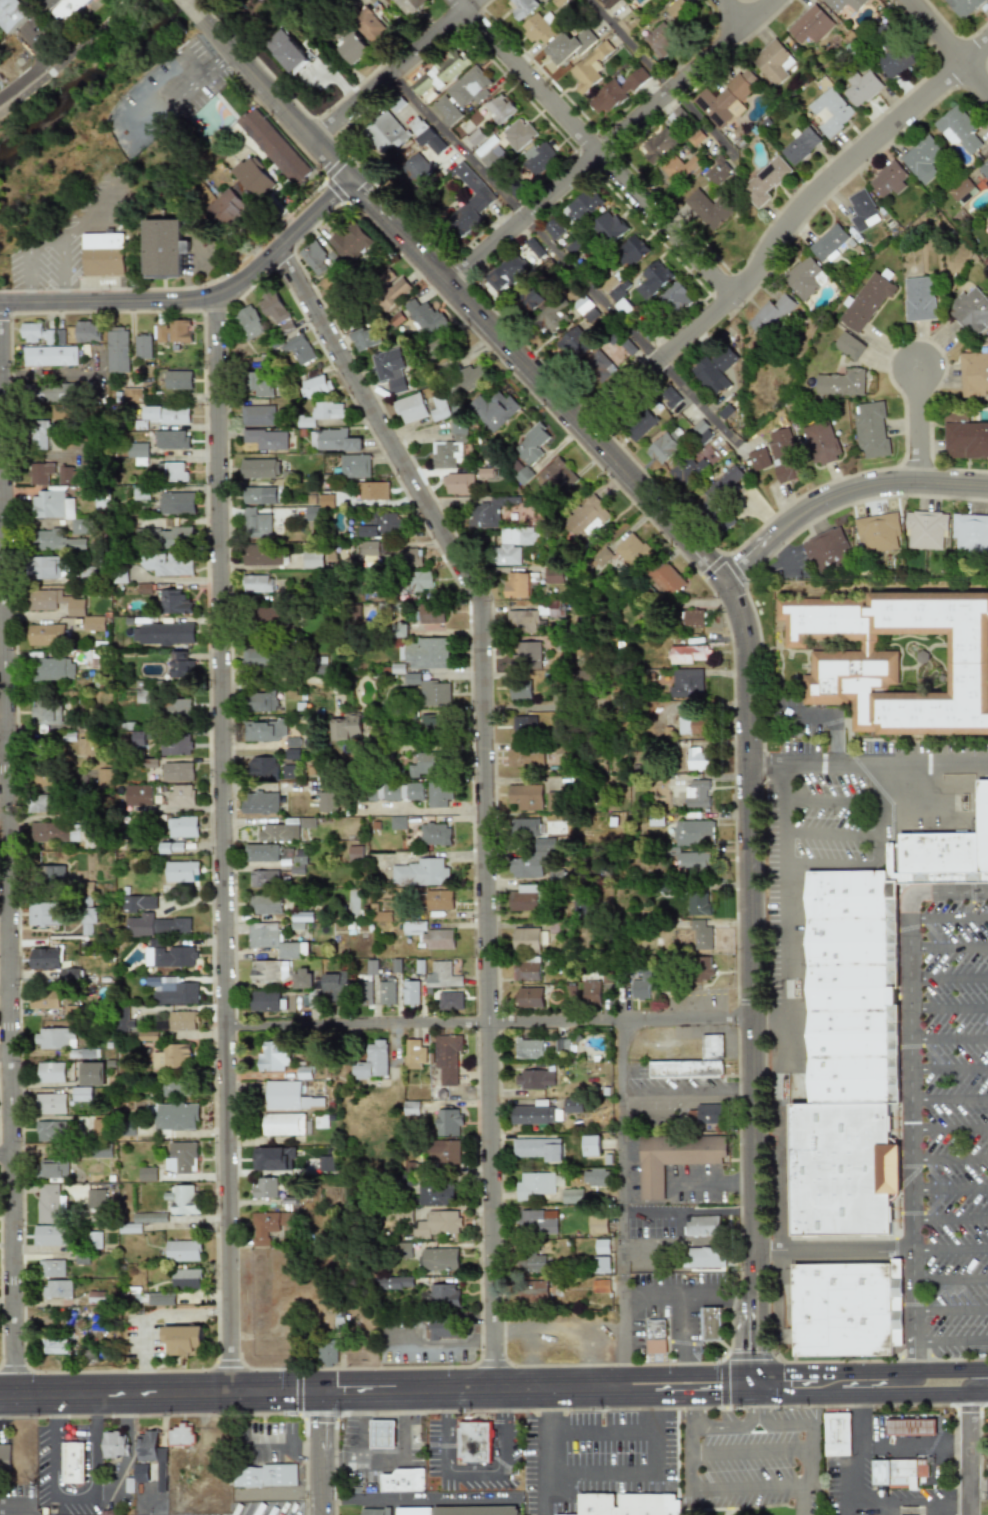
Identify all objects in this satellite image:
building: (844, 4)
building: (408, 6)
building: (520, 6)
building: (962, 6)
building: (66, 9)
road: (194, 9)
building: (676, 9)
road: (734, 13)
building: (11, 14)
building: (810, 25)
building: (368, 26)
building: (536, 29)
road: (89, 35)
building: (661, 40)
road: (949, 44)
building: (351, 47)
building: (568, 47)
building: (286, 52)
building: (895, 61)
building: (774, 62)
building: (589, 67)
road: (395, 69)
river: (86, 76)
road: (657, 76)
road: (17, 83)
building: (468, 86)
building: (861, 87)
road: (180, 89)
road: (25, 90)
building: (616, 91)
building: (427, 96)
building: (723, 100)
building: (499, 108)
building: (446, 110)
building: (831, 112)
building: (957, 129)
building: (385, 132)
building: (517, 134)
building: (474, 137)
building: (430, 141)
road: (611, 142)
building: (657, 144)
building: (484, 145)
building: (273, 146)
building: (800, 146)
road: (594, 148)
building: (537, 157)
building: (921, 159)
building: (487, 160)
building: (416, 169)
building: (672, 170)
building: (984, 170)
building: (718, 173)
building: (252, 177)
building: (887, 179)
building: (764, 182)
building: (960, 189)
building: (467, 202)
building: (582, 207)
building: (224, 208)
building: (707, 209)
building: (862, 211)
building: (608, 227)
building: (553, 229)
road: (782, 232)
building: (351, 242)
building: (828, 242)
road: (46, 247)
building: (631, 250)
building: (165, 251)
road: (557, 251)
building: (106, 257)
building: (315, 258)
building: (516, 265)
road: (61, 274)
building: (804, 278)
building: (652, 279)
building: (530, 298)
building: (674, 298)
building: (919, 299)
road: (198, 300)
building: (865, 301)
building: (271, 307)
building: (585, 309)
building: (970, 311)
building: (424, 316)
building: (770, 316)
building: (551, 319)
building: (248, 322)
building: (285, 330)
building: (86, 332)
building: (173, 332)
building: (36, 333)
building: (59, 337)
building: (364, 339)
building: (574, 344)
building: (848, 346)
building: (142, 347)
building: (298, 349)
building: (116, 350)
building: (49, 356)
building: (723, 359)
building: (599, 366)
building: (389, 369)
building: (973, 374)
building: (709, 377)
building: (469, 378)
building: (177, 380)
building: (841, 383)
building: (259, 384)
building: (314, 386)
building: (45, 393)
building: (131, 395)
building: (410, 408)
building: (321, 413)
building: (164, 414)
building: (256, 416)
building: (640, 425)
road: (920, 426)
building: (870, 429)
building: (459, 431)
building: (38, 435)
building: (964, 437)
building: (265, 439)
building: (170, 440)
building: (332, 440)
building: (821, 442)
building: (531, 446)
building: (663, 446)
building: (137, 453)
building: (783, 455)
building: (758, 459)
building: (259, 468)
building: (686, 470)
building: (170, 472)
building: (38, 473)
building: (559, 474)
building: (65, 475)
building: (458, 484)
building: (719, 488)
building: (372, 491)
building: (140, 492)
road: (843, 493)
building: (259, 495)
building: (326, 500)
building: (176, 503)
building: (50, 505)
building: (486, 513)
building: (312, 514)
building: (587, 518)
building: (255, 524)
building: (380, 524)
building: (77, 527)
building: (925, 529)
building: (970, 533)
building: (877, 534)
building: (169, 537)
building: (54, 541)
building: (512, 545)
building: (631, 551)
building: (824, 551)
building: (370, 553)
road: (783, 554)
building: (261, 555)
building: (411, 557)
building: (312, 560)
building: (167, 565)
building: (44, 568)
building: (553, 575)
building: (665, 579)
building: (417, 581)
building: (256, 584)
building: (517, 585)
road: (732, 590)
building: (56, 601)
building: (173, 602)
building: (430, 614)
building: (268, 615)
building: (693, 618)
building: (522, 621)
building: (92, 624)
building: (162, 634)
building: (45, 635)
building: (426, 653)
building: (897, 653)
building: (689, 654)
building: (526, 656)
building: (90, 658)
building: (256, 658)
building: (179, 665)
building: (51, 669)
building: (686, 682)
building: (429, 691)
building: (519, 691)
building: (140, 697)
building: (261, 702)
building: (176, 709)
building: (44, 712)
road: (832, 716)
building: (430, 723)
building: (523, 724)
building: (344, 728)
building: (264, 731)
building: (139, 739)
building: (292, 742)
building: (175, 745)
building: (84, 747)
building: (291, 754)
building: (525, 758)
building: (697, 760)
road: (869, 764)
building: (424, 765)
building: (262, 766)
building: (287, 771)
building: (177, 772)
building: (102, 778)
building: (414, 791)
building: (390, 792)
road: (485, 792)
building: (438, 794)
building: (697, 794)
building: (137, 795)
building: (180, 797)
building: (524, 797)
parking lot: (844, 797)
road: (816, 799)
building: (326, 802)
building: (259, 803)
building: (37, 804)
road: (434, 810)
road: (879, 813)
building: (306, 822)
building: (397, 822)
building: (181, 827)
building: (525, 827)
road: (831, 832)
building: (693, 833)
building: (62, 834)
building: (984, 834)
building: (434, 835)
building: (545, 844)
road: (224, 845)
building: (170, 848)
road: (7, 849)
building: (261, 853)
building: (355, 853)
building: (693, 861)
building: (942, 861)
road: (831, 864)
building: (525, 867)
road: (783, 868)
building: (181, 872)
building: (420, 873)
building: (50, 875)
building: (263, 878)
road: (948, 894)
building: (438, 900)
building: (526, 900)
building: (138, 903)
building: (266, 904)
building: (698, 904)
building: (44, 914)
building: (380, 917)
road: (949, 917)
building: (299, 919)
building: (87, 920)
building: (155, 926)
building: (701, 934)
building: (262, 935)
building: (429, 935)
building: (528, 940)
road: (949, 947)
building: (293, 950)
building: (169, 957)
building: (52, 964)
building: (371, 967)
building: (701, 968)
building: (265, 971)
building: (526, 971)
building: (441, 976)
road: (949, 978)
building: (300, 979)
building: (335, 987)
building: (640, 987)
building: (171, 991)
building: (386, 992)
building: (364, 993)
building: (410, 993)
building: (591, 993)
building: (856, 993)
building: (528, 998)
building: (43, 1000)
building: (264, 1001)
building: (449, 1001)
road: (949, 1007)
road: (786, 1013)
building: (182, 1021)
road: (490, 1021)
building: (125, 1024)
road: (949, 1037)
building: (54, 1039)
road: (786, 1043)
building: (529, 1049)
building: (413, 1055)
building: (171, 1056)
building: (273, 1056)
building: (446, 1058)
building: (372, 1062)
building: (693, 1062)
road: (950, 1066)
building: (50, 1072)
building: (91, 1074)
building: (534, 1079)
building: (177, 1089)
road: (738, 1091)
road: (675, 1093)
building: (82, 1094)
road: (624, 1095)
building: (288, 1097)
road: (950, 1099)
road: (912, 1101)
building: (49, 1104)
building: (571, 1105)
building: (409, 1108)
building: (705, 1114)
building: (176, 1117)
parking lot: (946, 1121)
building: (448, 1122)
building: (283, 1124)
road: (950, 1129)
building: (50, 1131)
building: (590, 1146)
building: (537, 1149)
building: (443, 1151)
road: (6, 1155)
building: (180, 1157)
road: (950, 1157)
building: (673, 1158)
building: (272, 1159)
building: (325, 1164)
building: (53, 1169)
building: (147, 1174)
building: (848, 1175)
building: (593, 1178)
building: (533, 1185)
building: (264, 1188)
road: (950, 1188)
building: (435, 1193)
building: (571, 1196)
building: (96, 1199)
road: (620, 1200)
building: (182, 1201)
building: (49, 1204)
road: (688, 1211)
building: (150, 1218)
road: (951, 1219)
building: (537, 1221)
building: (437, 1224)
building: (596, 1225)
building: (701, 1226)
building: (263, 1228)
building: (48, 1236)
building: (95, 1240)
building: (601, 1246)
road: (951, 1249)
building: (403, 1250)
road: (835, 1250)
building: (182, 1251)
building: (705, 1257)
building: (439, 1259)
building: (531, 1263)
building: (600, 1265)
building: (51, 1269)
building: (186, 1278)
road: (951, 1280)
building: (396, 1283)
building: (599, 1286)
building: (57, 1289)
building: (531, 1290)
building: (443, 1295)
road: (690, 1298)
building: (160, 1299)
road: (951, 1308)
building: (845, 1311)
road: (150, 1315)
building: (710, 1324)
road: (915, 1324)
building: (443, 1330)
road: (683, 1333)
building: (655, 1336)
road: (952, 1339)
building: (182, 1340)
building: (53, 1346)
road: (442, 1346)
traffic signals: (758, 1350)
building: (326, 1353)
road: (916, 1353)
road: (952, 1365)
road: (865, 1367)
road: (690, 1368)
traffic signals: (785, 1368)
road: (786, 1368)
road: (758, 1383)
road: (976, 1383)
road: (893, 1385)
road: (491, 1390)
traffic signals: (292, 1392)
road: (307, 1392)
road: (339, 1392)
traffic signals: (344, 1392)
road: (145, 1393)
road: (979, 1394)
road: (659, 1395)
road: (915, 1395)
road: (809, 1396)
traffic signals: (718, 1398)
road: (727, 1398)
road: (549, 1403)
road: (697, 1414)
traffic signals: (764, 1414)
road: (322, 1420)
road: (356, 1424)
traffic signals: (322, 1427)
road: (725, 1427)
building: (910, 1427)
road: (448, 1433)
road: (599, 1433)
building: (381, 1434)
road: (651, 1434)
building: (836, 1434)
building: (179, 1435)
building: (473, 1442)
road: (855, 1444)
building: (114, 1445)
road: (913, 1446)
road: (286, 1449)
road: (322, 1452)
road: (727, 1452)
building: (4, 1453)
road: (970, 1454)
building: (152, 1456)
road: (378, 1456)
road: (503, 1459)
building: (72, 1462)
parking lot: (41, 1463)
road: (547, 1467)
building: (140, 1473)
building: (900, 1473)
building: (263, 1475)
road: (599, 1476)
building: (402, 1480)
road: (808, 1481)
road: (83, 1485)
road: (322, 1485)
road: (979, 1490)
road: (71, 1498)
road: (417, 1500)
road: (695, 1502)
road: (847, 1502)
road: (912, 1503)
parking lot: (88, 1504)
road: (19, 1505)
building: (632, 1505)
road: (393, 1508)
parking lot: (79, 1509)
road: (882, 1509)
building: (476, 1511)
building: (414, 1512)
building: (378, 1513)

